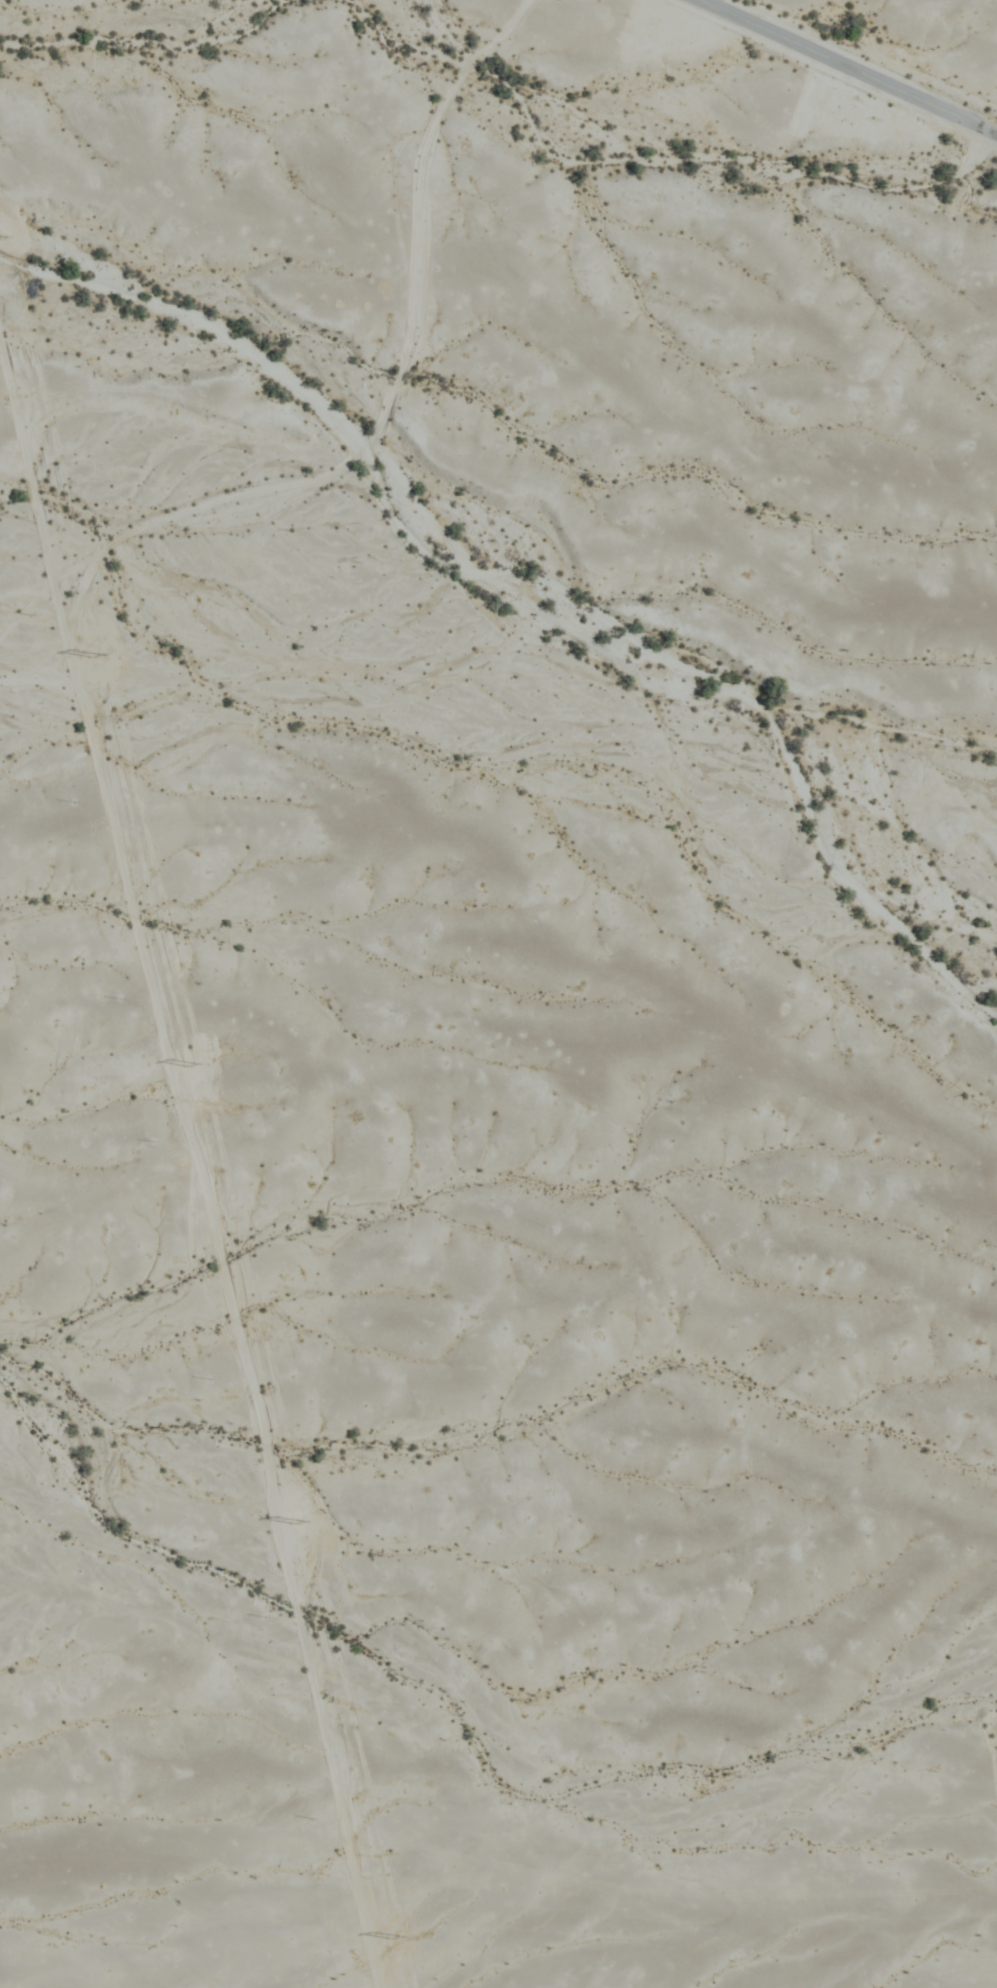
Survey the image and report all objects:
road: (846, 68)
road: (398, 397)
power tower: (99, 654)
power tower: (199, 1067)
road: (188, 1168)
power tower: (297, 1524)
power tower: (397, 1936)

